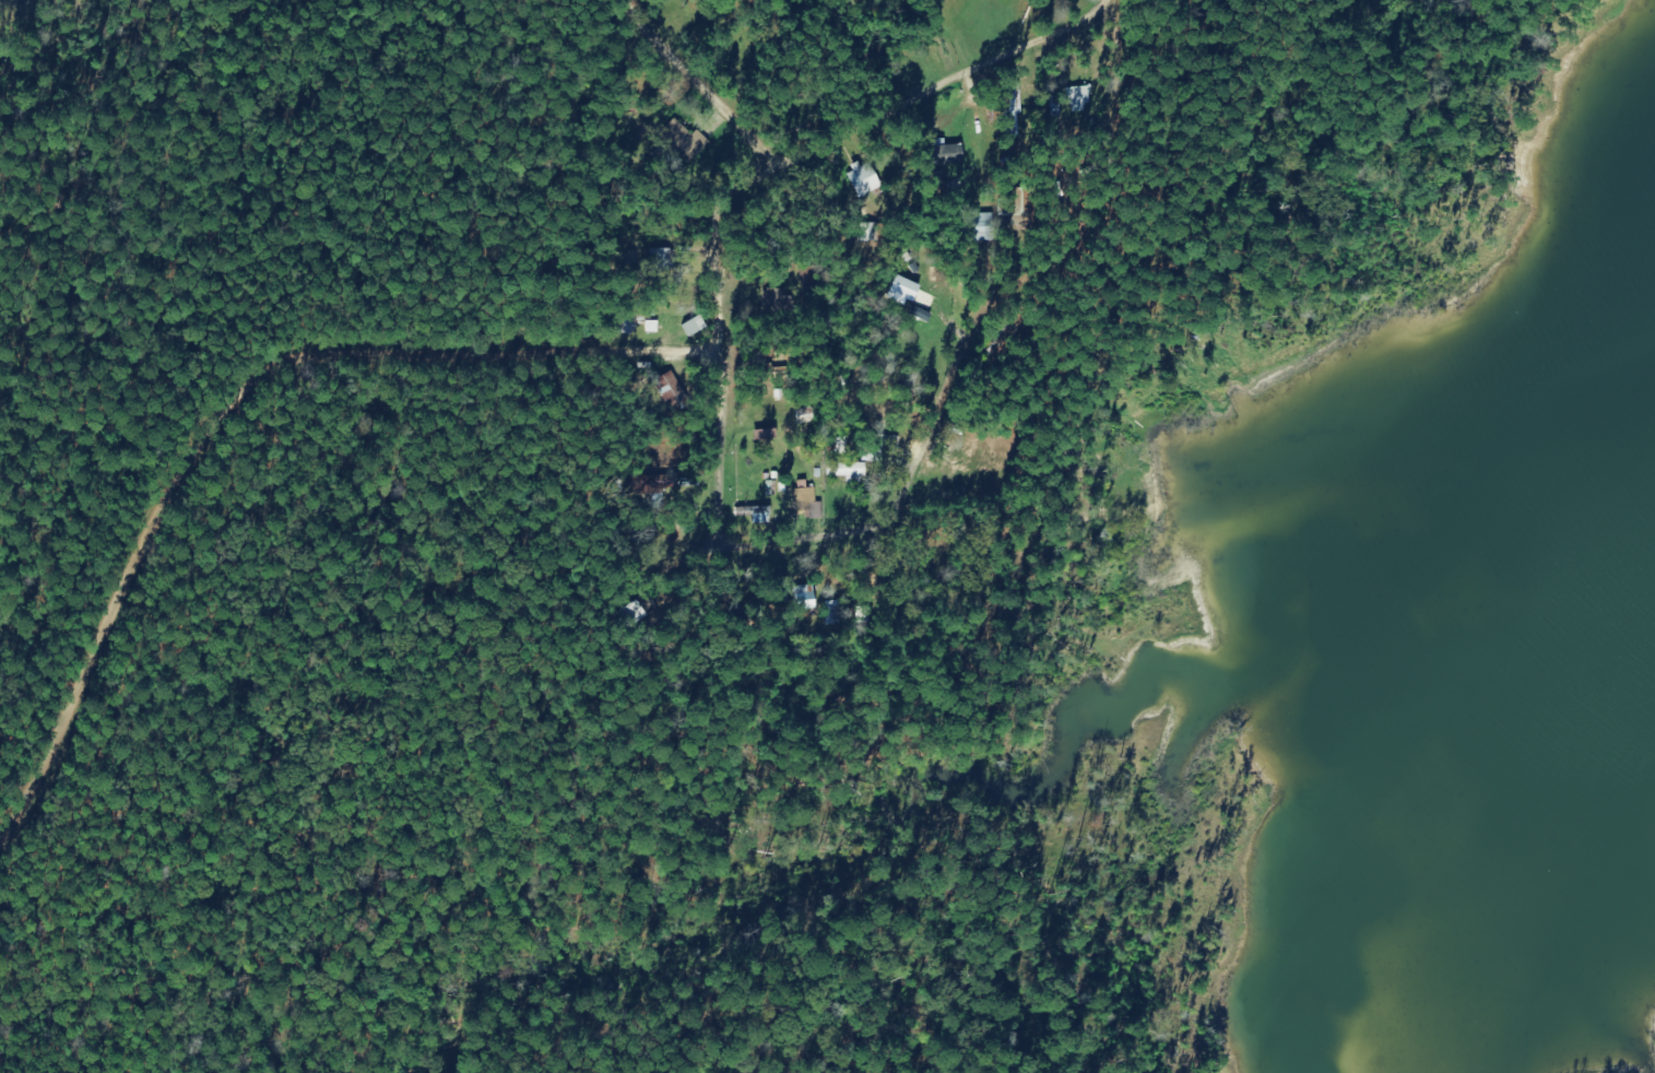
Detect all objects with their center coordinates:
road: (696, 91)
road: (847, 129)
building: (865, 180)
building: (983, 226)
building: (905, 291)
building: (922, 313)
building: (696, 326)
road: (960, 362)
building: (674, 388)
road: (236, 411)
building: (852, 471)
building: (809, 500)
road: (799, 549)

